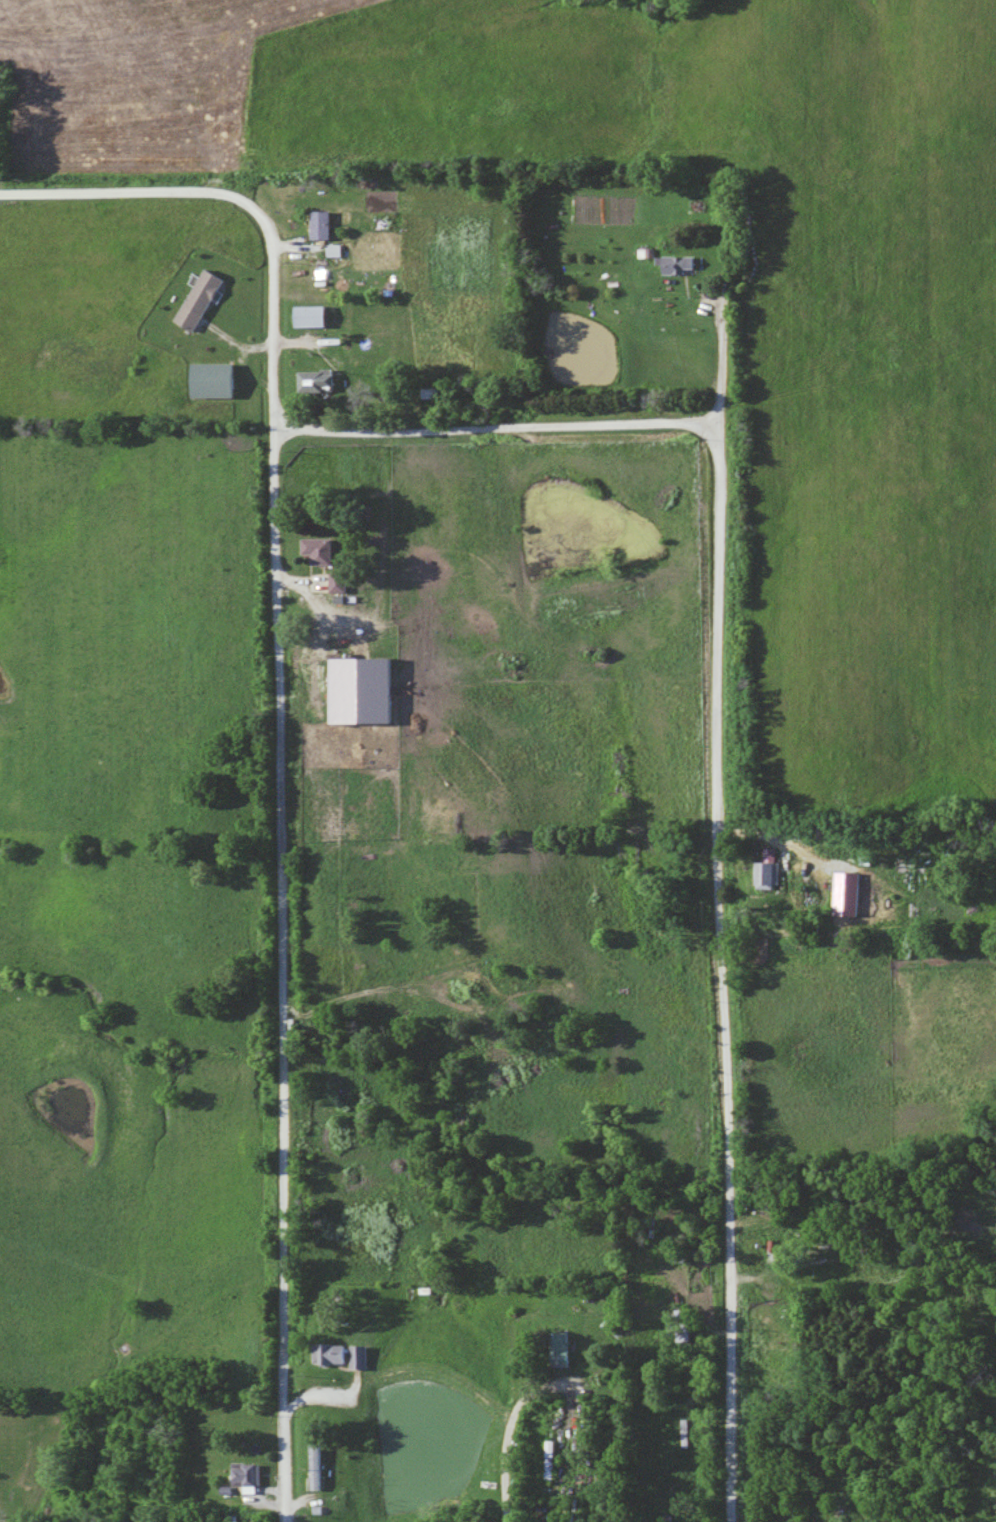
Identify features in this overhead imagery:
road: (136, 188)
building: (325, 224)
building: (316, 313)
road: (718, 353)
building: (220, 378)
building: (319, 380)
road: (488, 424)
building: (318, 551)
building: (370, 686)
road: (275, 868)
building: (771, 869)
building: (852, 890)
road: (721, 974)
road: (742, 1231)
building: (568, 1347)
road: (515, 1465)
building: (321, 1475)

